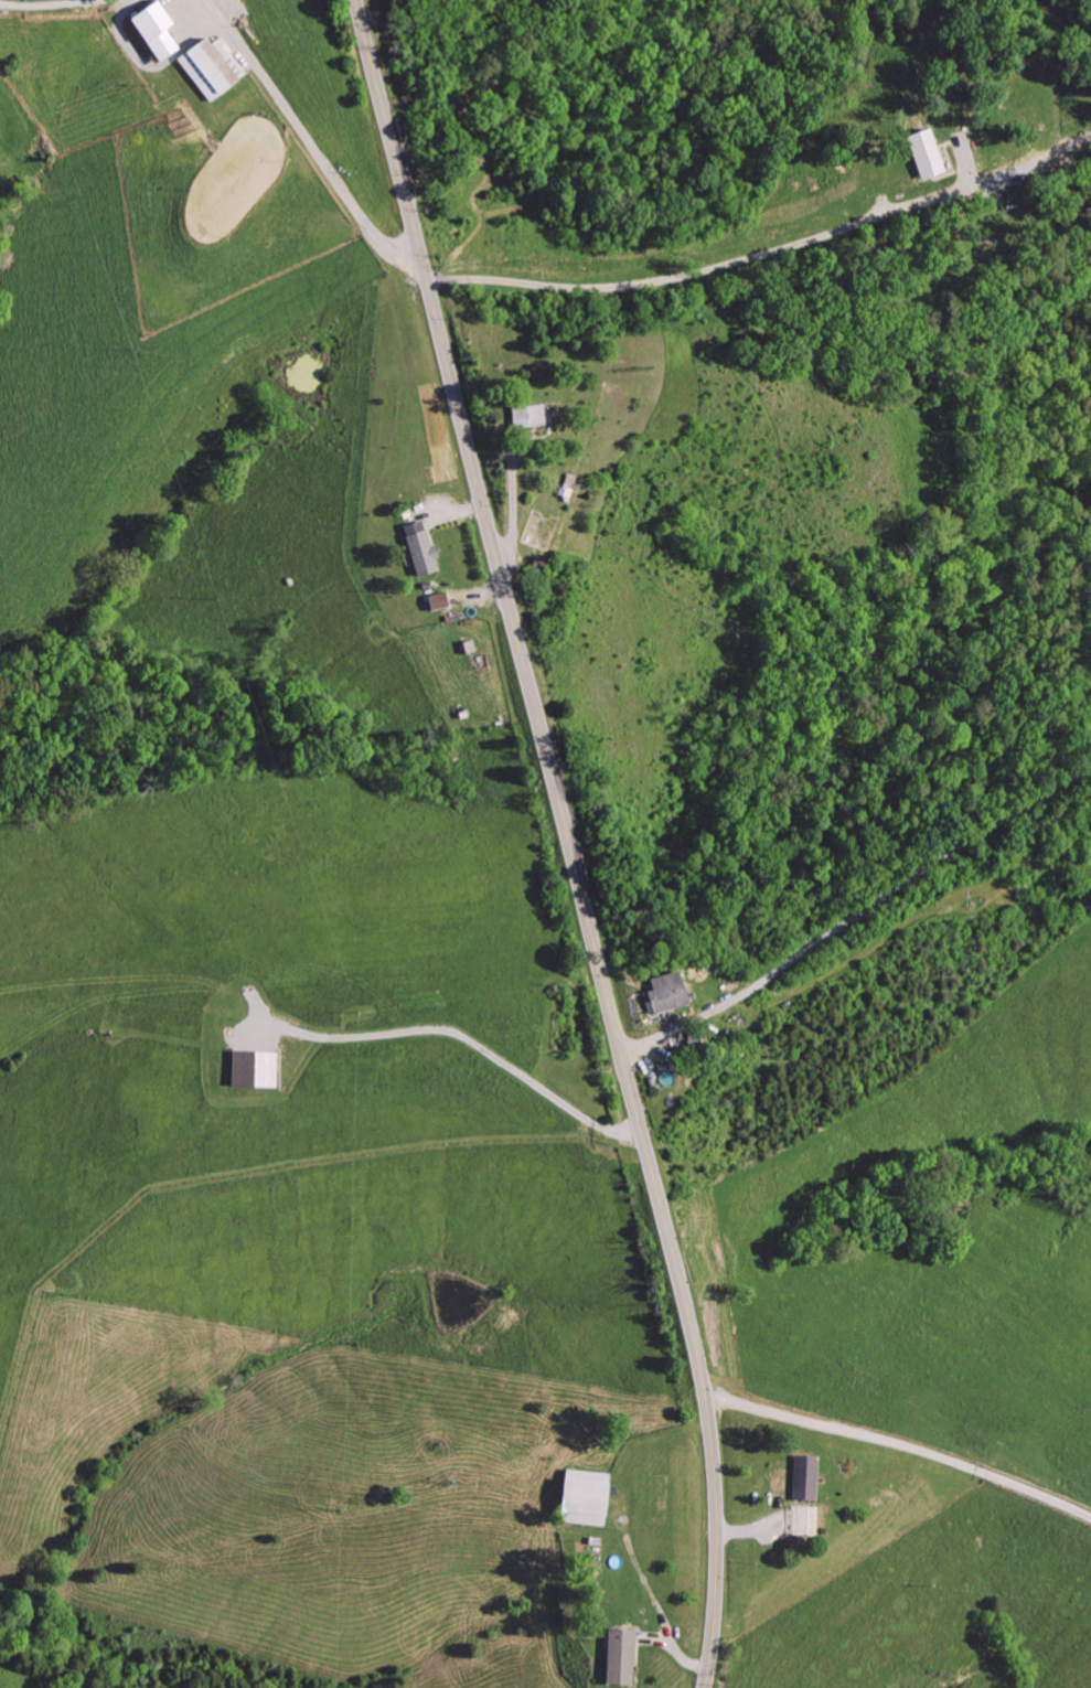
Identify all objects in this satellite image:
road: (184, 21)
building: (151, 31)
building: (208, 66)
road: (311, 142)
building: (921, 153)
road: (676, 274)
building: (523, 415)
building: (418, 547)
building: (436, 601)
road: (570, 840)
road: (859, 915)
building: (664, 992)
road: (458, 1034)
building: (250, 1069)
road: (901, 1445)
building: (802, 1478)
building: (579, 1496)
building: (617, 1657)

